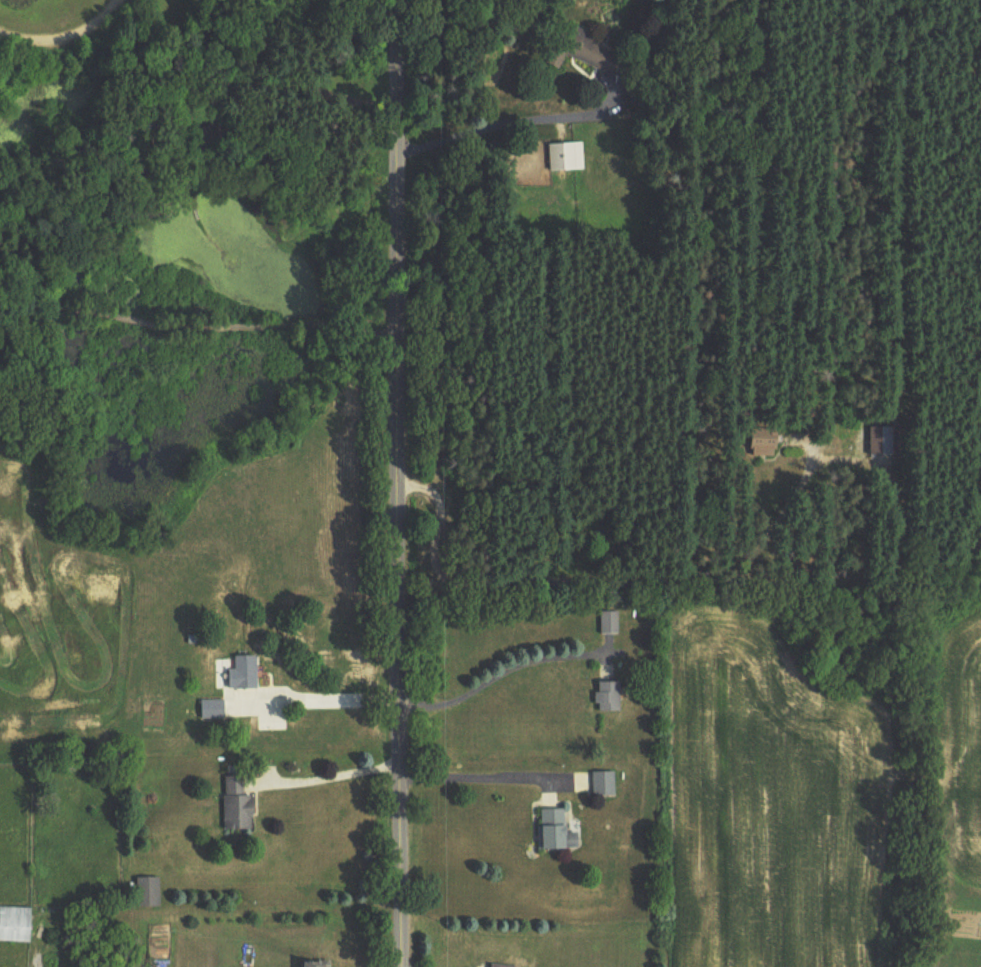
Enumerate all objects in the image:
building: (579, 51)
road: (512, 122)
building: (566, 157)
road: (197, 326)
building: (883, 443)
building: (766, 444)
road: (399, 483)
building: (609, 622)
building: (244, 674)
road: (499, 674)
building: (607, 697)
road: (321, 700)
building: (213, 710)
road: (329, 778)
road: (484, 778)
building: (602, 785)
building: (238, 806)
building: (554, 830)
building: (150, 893)
building: (16, 925)
building: (318, 964)
building: (499, 966)

